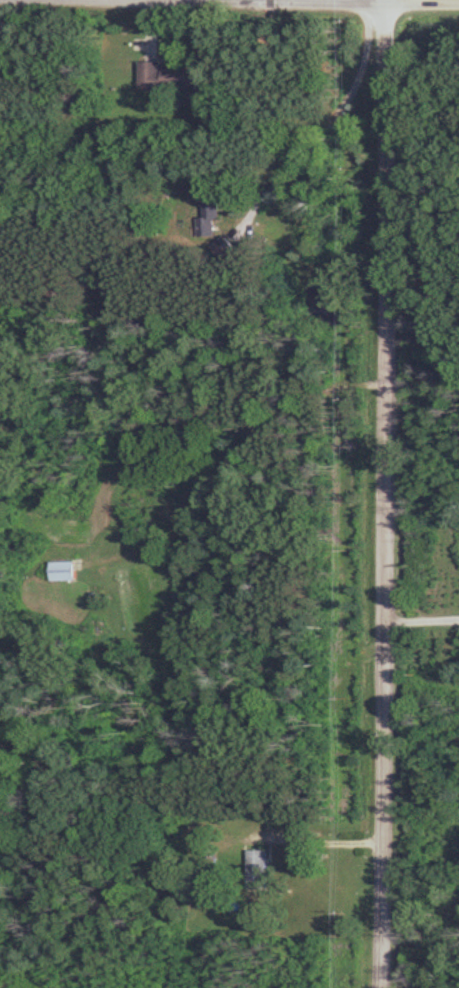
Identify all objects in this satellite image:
road: (264, 2)
building: (169, 78)
road: (326, 128)
building: (208, 220)
road: (388, 493)
building: (63, 572)
road: (423, 622)
road: (327, 843)
building: (257, 870)

